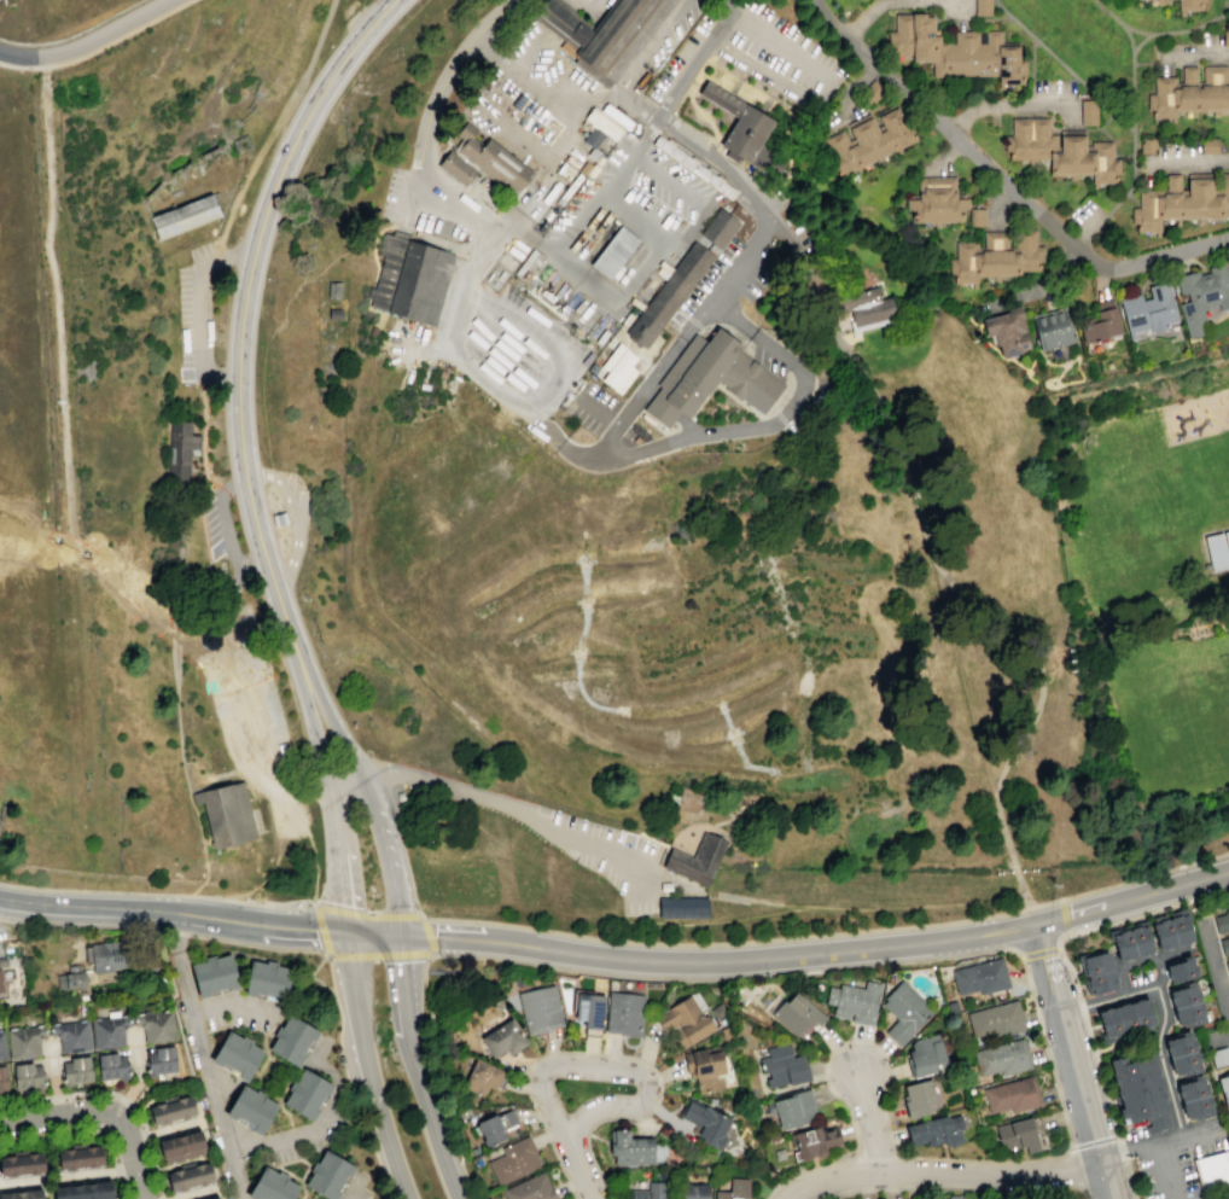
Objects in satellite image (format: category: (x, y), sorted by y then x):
road: (995, 1)
building: (1189, 4)
building: (980, 7)
road: (587, 8)
road: (956, 8)
parking lot: (753, 10)
road: (864, 16)
parking lot: (678, 28)
building: (604, 33)
road: (1161, 33)
road: (86, 40)
road: (1140, 40)
road: (650, 46)
road: (98, 48)
building: (566, 48)
road: (489, 50)
building: (955, 50)
road: (313, 51)
parking lot: (681, 54)
parking lot: (777, 54)
road: (1198, 57)
road: (448, 71)
road: (1131, 77)
road: (525, 78)
road: (845, 86)
road: (856, 86)
road: (828, 88)
building: (1190, 89)
building: (872, 91)
road: (614, 93)
road: (1010, 106)
building: (1087, 111)
parking lot: (540, 114)
road: (1114, 114)
building: (616, 116)
road: (1052, 116)
building: (602, 124)
building: (744, 132)
road: (681, 136)
road: (1109, 139)
building: (866, 141)
building: (593, 144)
building: (1146, 145)
building: (1207, 145)
building: (1060, 150)
road: (548, 153)
building: (675, 153)
road: (1181, 162)
building: (484, 163)
building: (583, 167)
road: (250, 168)
road: (619, 175)
building: (715, 181)
road: (1002, 181)
road: (681, 187)
building: (488, 190)
road: (1131, 198)
building: (934, 200)
building: (1180, 200)
parking lot: (410, 202)
building: (560, 203)
building: (724, 206)
building: (184, 216)
parking lot: (631, 216)
building: (975, 217)
parking lot: (1084, 219)
road: (391, 225)
building: (718, 228)
road: (522, 229)
road: (1083, 229)
building: (400, 234)
road: (372, 241)
road: (216, 250)
road: (551, 251)
building: (614, 252)
building: (994, 256)
road: (832, 269)
building: (409, 279)
parking lot: (757, 281)
parking lot: (703, 283)
road: (1041, 287)
building: (332, 289)
building: (668, 295)
building: (1201, 295)
building: (864, 304)
road: (54, 307)
parking lot: (479, 307)
building: (1148, 308)
road: (199, 309)
building: (333, 313)
parking lot: (197, 315)
road: (687, 318)
building: (811, 320)
building: (1100, 320)
road: (239, 324)
road: (724, 325)
building: (1050, 327)
road: (701, 328)
building: (372, 330)
building: (1006, 330)
road: (272, 332)
road: (730, 333)
road: (837, 342)
road: (534, 350)
building: (608, 359)
parking lot: (768, 362)
building: (592, 367)
building: (619, 372)
building: (441, 373)
parking lot: (188, 377)
road: (650, 377)
road: (200, 378)
building: (709, 378)
building: (423, 386)
parking lot: (812, 398)
road: (741, 403)
parking lot: (810, 403)
parking lot: (590, 406)
road: (595, 411)
road: (773, 411)
road: (780, 419)
road: (681, 421)
road: (686, 423)
road: (657, 426)
building: (179, 448)
road: (617, 456)
road: (205, 476)
parking lot: (299, 499)
road: (297, 514)
road: (223, 518)
building: (278, 519)
parking lot: (215, 525)
parking lot: (222, 546)
building: (1217, 548)
road: (233, 594)
road: (180, 610)
road: (1024, 631)
road: (1159, 646)
road: (1089, 647)
road: (961, 681)
road: (175, 689)
parking lot: (249, 712)
road: (251, 724)
road: (334, 727)
road: (313, 734)
road: (197, 768)
road: (378, 773)
road: (208, 780)
road: (308, 790)
road: (365, 790)
building: (398, 796)
road: (499, 802)
road: (726, 810)
building: (225, 814)
road: (374, 817)
road: (726, 839)
road: (663, 844)
road: (403, 852)
road: (385, 855)
parking lot: (608, 857)
building: (697, 858)
road: (338, 860)
road: (1007, 866)
road: (314, 872)
road: (1134, 878)
power tower: (1052, 884)
building: (664, 886)
road: (168, 895)
road: (759, 902)
road: (944, 903)
street lamp: (308, 904)
road: (392, 904)
road: (115, 907)
street lamp: (414, 907)
building: (682, 907)
road: (1027, 907)
road: (1147, 912)
road: (366, 915)
road: (1064, 915)
building: (1221, 922)
road: (82, 925)
road: (286, 927)
building: (1171, 929)
road: (318, 930)
road: (175, 932)
traffic signals: (344, 932)
road: (369, 933)
traffic signals: (396, 935)
road: (427, 935)
road: (462, 938)
street lamp: (1067, 939)
street lamp: (205, 941)
building: (1130, 941)
road: (718, 943)
building: (1224, 944)
road: (883, 947)
building: (11, 951)
street lamp: (319, 951)
road: (1039, 951)
building: (106, 955)
road: (380, 955)
street lamp: (438, 955)
road: (1137, 961)
building: (1227, 966)
road: (1048, 968)
road: (435, 970)
building: (1181, 970)
building: (1096, 972)
road: (1216, 972)
building: (212, 974)
road: (310, 976)
building: (979, 977)
building: (71, 978)
building: (266, 980)
building: (1, 984)
road: (459, 984)
road: (400, 985)
building: (854, 1001)
road: (235, 1003)
road: (289, 1003)
building: (1186, 1003)
building: (951, 1006)
building: (538, 1008)
road: (338, 1009)
building: (588, 1009)
building: (717, 1011)
building: (903, 1012)
road: (1163, 1012)
building: (623, 1013)
building: (796, 1013)
building: (1142, 1013)
road: (1037, 1018)
building: (1125, 1018)
parking lot: (241, 1019)
building: (995, 1019)
building: (683, 1020)
building: (155, 1024)
building: (1107, 1024)
road: (238, 1026)
building: (107, 1030)
road: (1088, 1031)
building: (70, 1035)
road: (1221, 1036)
road: (181, 1037)
building: (502, 1038)
building: (23, 1040)
building: (292, 1041)
road: (263, 1044)
building: (1, 1047)
building: (235, 1054)
building: (1182, 1054)
road: (204, 1055)
building: (925, 1055)
road: (266, 1057)
road: (410, 1057)
road: (610, 1057)
building: (1001, 1057)
building: (1218, 1057)
building: (159, 1060)
building: (111, 1065)
road: (368, 1066)
building: (782, 1066)
building: (75, 1069)
road: (612, 1069)
building: (704, 1069)
building: (25, 1075)
building: (1, 1077)
building: (483, 1077)
road: (136, 1078)
road: (52, 1081)
building: (1138, 1089)
building: (1224, 1089)
road: (92, 1090)
road: (450, 1090)
street lamp: (557, 1092)
road: (54, 1094)
building: (307, 1094)
building: (1012, 1094)
building: (918, 1098)
road: (23, 1099)
building: (1193, 1099)
road: (126, 1100)
road: (1084, 1106)
building: (793, 1108)
building: (170, 1110)
building: (250, 1110)
road: (101, 1111)
road: (284, 1112)
road: (139, 1114)
road: (869, 1121)
road: (320, 1122)
building: (705, 1123)
building: (495, 1125)
road: (162, 1128)
road: (1227, 1128)
building: (662, 1130)
building: (934, 1130)
road: (69, 1133)
road: (146, 1133)
building: (1017, 1135)
road: (292, 1136)
road: (433, 1139)
road: (1118, 1139)
road: (1155, 1139)
building: (814, 1141)
road: (1091, 1142)
building: (180, 1146)
building: (629, 1147)
road: (1120, 1149)
building: (78, 1156)
road: (309, 1156)
road: (875, 1156)
building: (512, 1160)
road: (285, 1162)
parking lot: (1173, 1162)
building: (21, 1163)
road: (153, 1168)
road: (578, 1168)
road: (1070, 1168)
road: (1166, 1169)
road: (304, 1170)
road: (115, 1171)
building: (1212, 1171)
building: (327, 1175)
road: (940, 1175)
road: (66, 1176)
building: (188, 1176)
road: (1128, 1178)
building: (270, 1186)
road: (351, 1186)
road: (120, 1187)
building: (530, 1188)
road: (884, 1188)
building: (734, 1189)
building: (83, 1191)
building: (648, 1191)
building: (693, 1191)
road: (1018, 1191)
road: (192, 1193)
building: (22, 1194)
road: (1215, 1195)
road: (161, 1197)
building: (954, 1197)
building: (214, 1198)
building: (1228, 1198)

